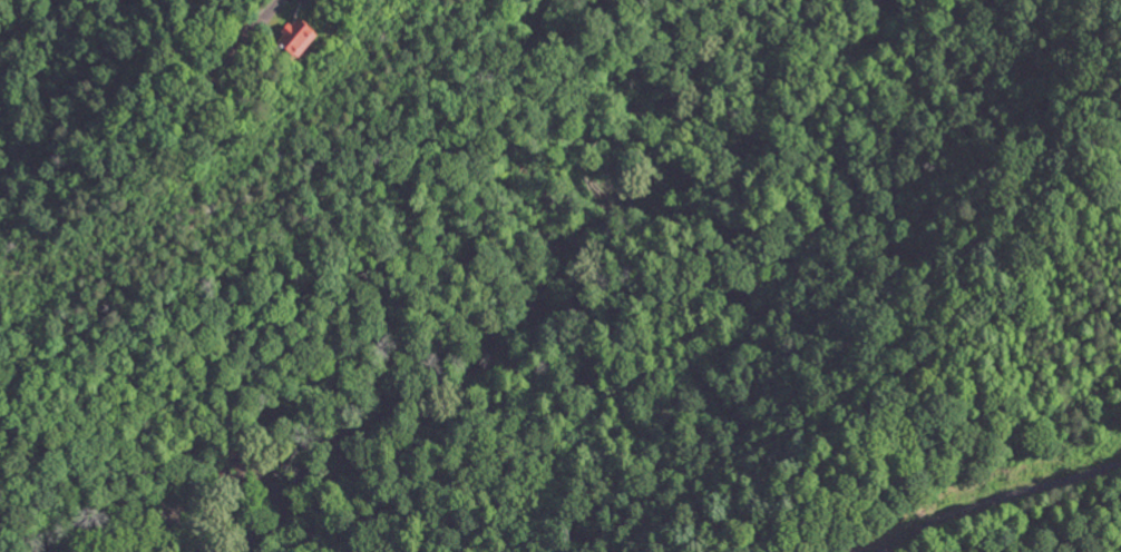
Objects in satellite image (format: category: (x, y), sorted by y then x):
road: (257, 27)
building: (294, 34)
road: (995, 501)

